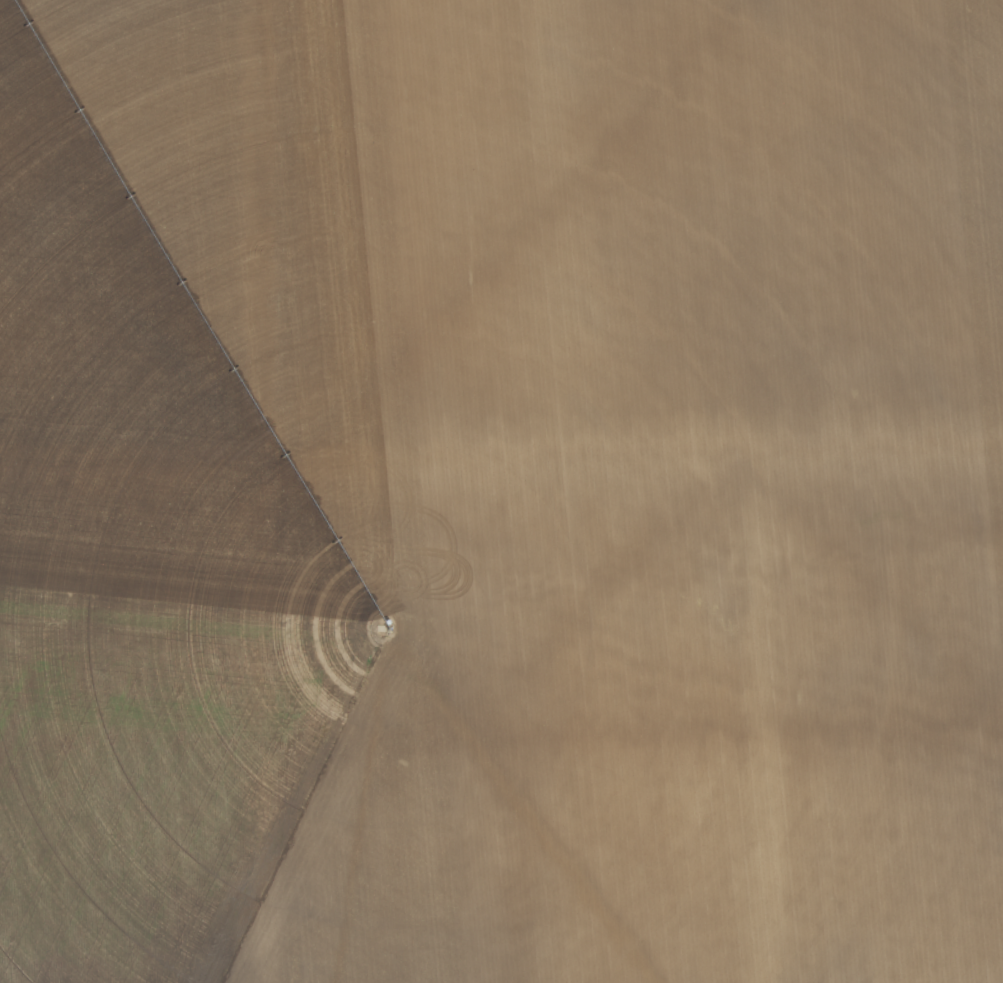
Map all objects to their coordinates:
road: (501, 450)

